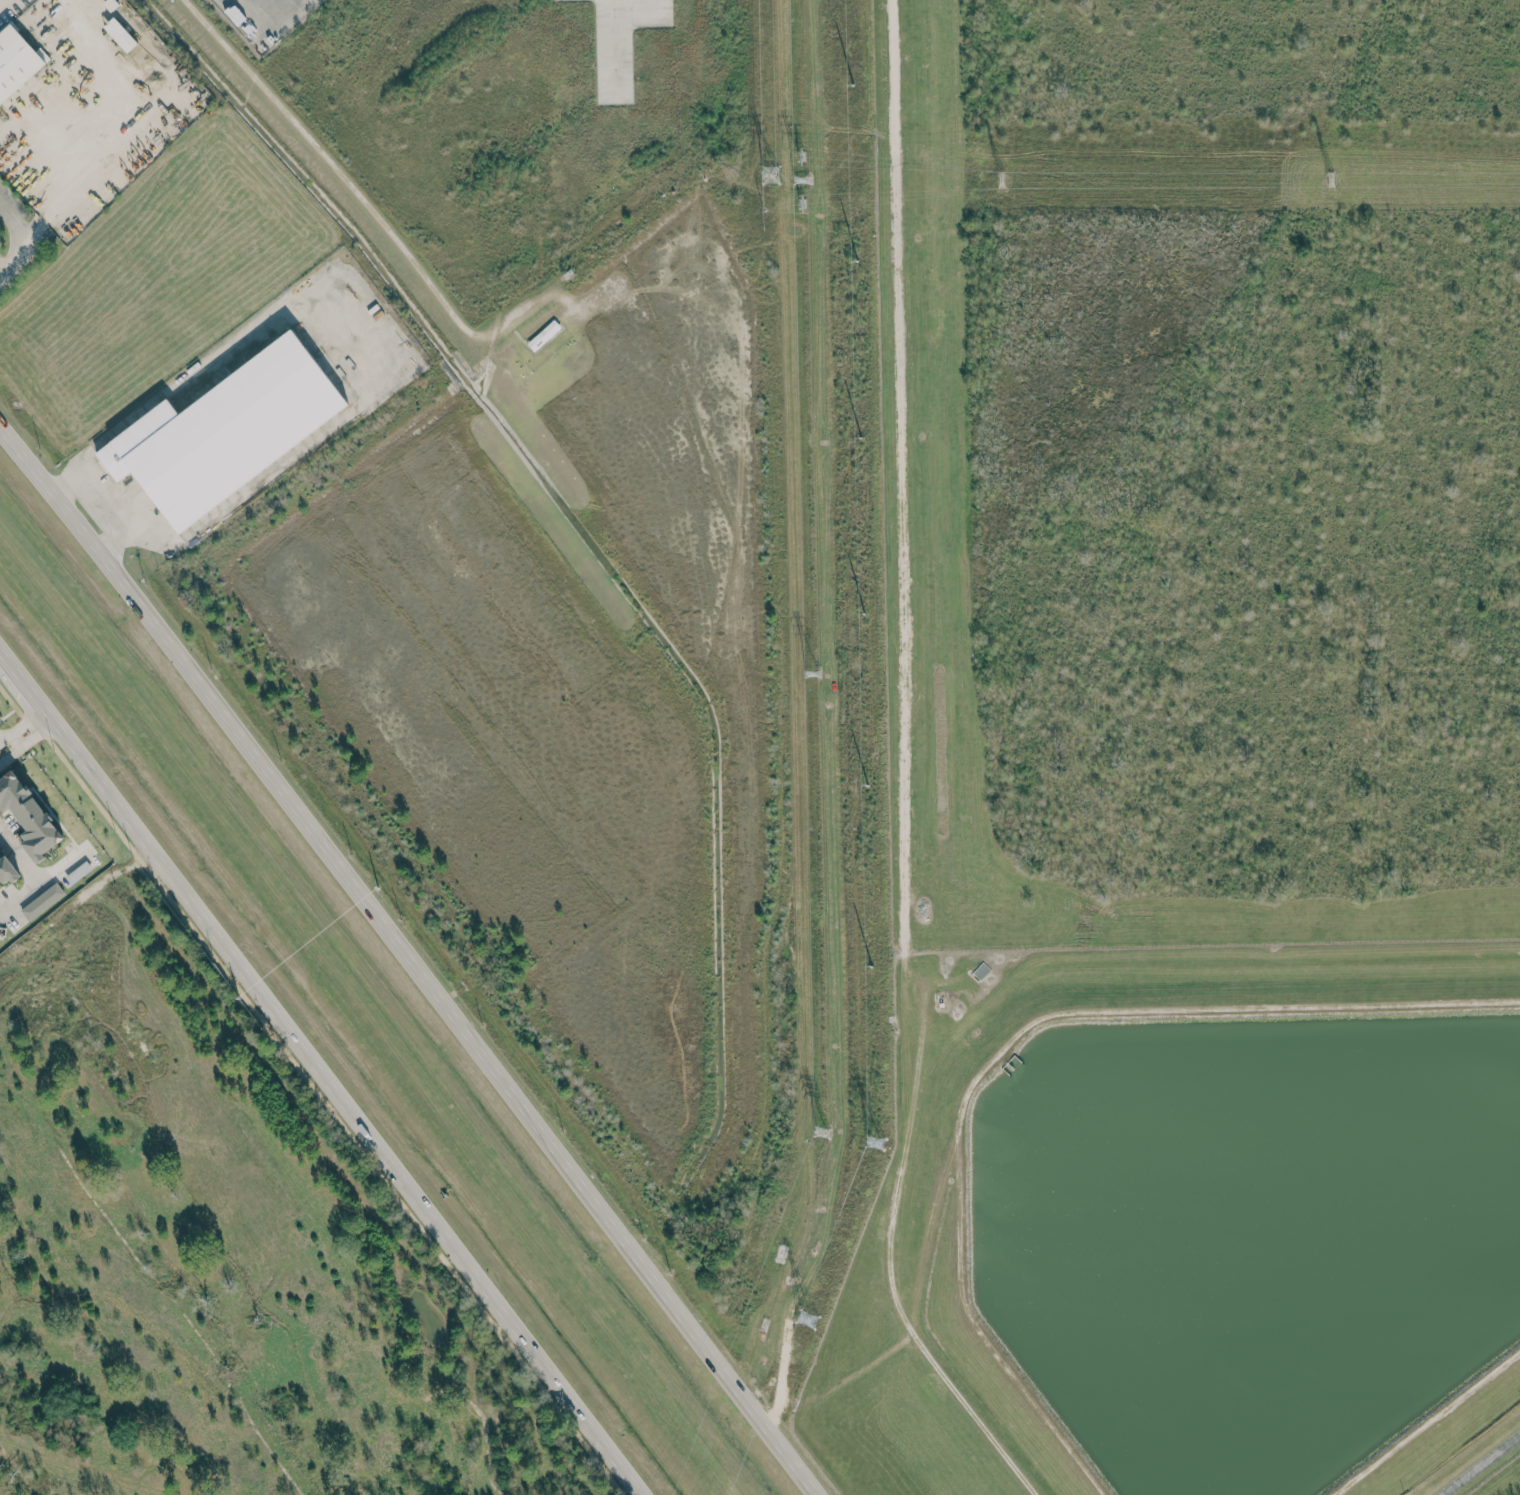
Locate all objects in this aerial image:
road: (245, 2)
building: (119, 34)
road: (111, 45)
road: (606, 45)
building: (16, 62)
power tower: (801, 154)
road: (328, 160)
road: (90, 163)
power tower: (770, 174)
power tower: (801, 176)
power tower: (1332, 179)
power tower: (1001, 180)
power tower: (802, 202)
road: (14, 220)
road: (14, 250)
building: (546, 332)
road: (155, 401)
building: (226, 432)
road: (64, 482)
road: (125, 534)
power tower: (811, 675)
road: (32, 728)
road: (15, 744)
road: (903, 775)
building: (28, 813)
road: (19, 858)
building: (8, 867)
building: (78, 870)
road: (45, 879)
building: (42, 900)
road: (407, 960)
road: (320, 1075)
road: (312, 1089)
power tower: (821, 1131)
power tower: (874, 1141)
power tower: (808, 1316)
road: (1480, 1464)

